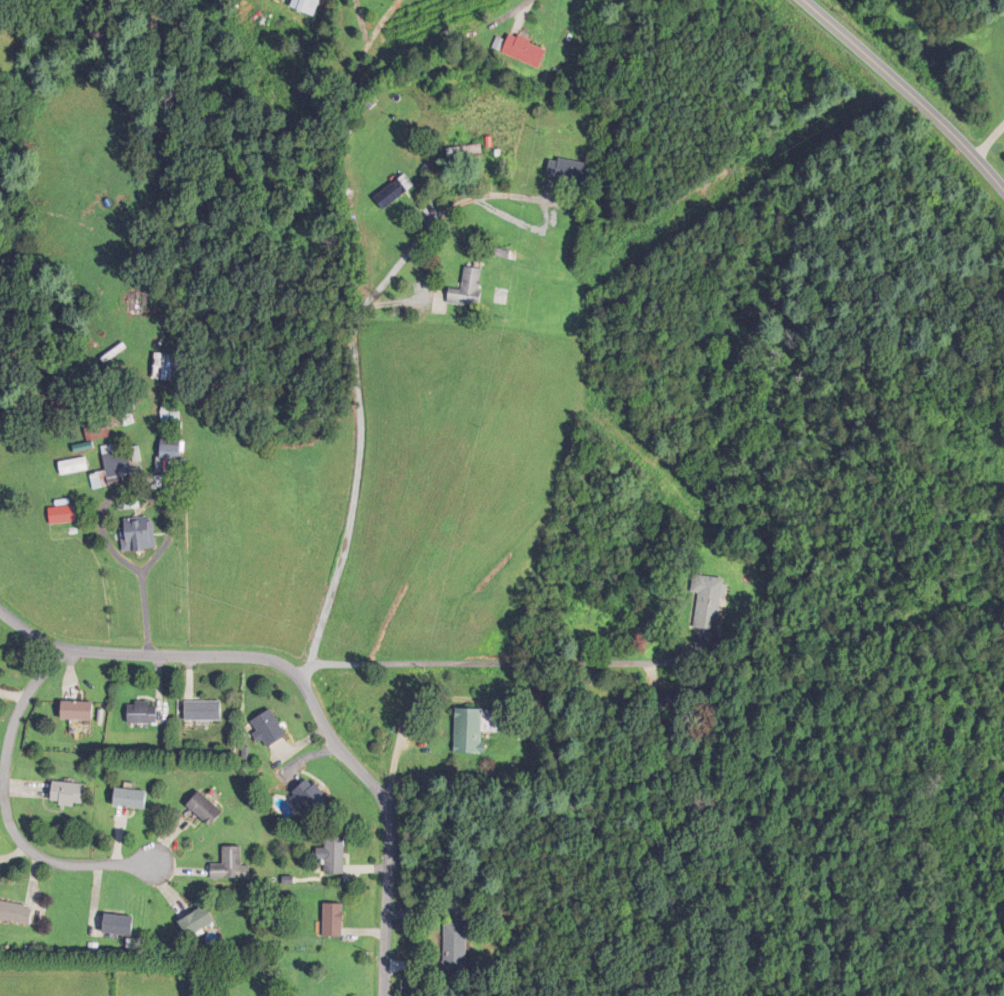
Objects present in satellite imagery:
building: (308, 6)
road: (513, 13)
building: (526, 52)
road: (892, 79)
road: (991, 144)
building: (462, 152)
building: (573, 172)
road: (991, 175)
building: (396, 194)
building: (469, 290)
building: (140, 308)
building: (171, 370)
road: (357, 381)
building: (174, 417)
building: (100, 432)
building: (173, 457)
building: (76, 468)
building: (115, 469)
building: (64, 517)
building: (141, 536)
building: (711, 600)
road: (474, 663)
road: (308, 688)
building: (673, 704)
building: (79, 710)
building: (206, 710)
building: (144, 713)
building: (272, 728)
building: (476, 728)
building: (69, 794)
building: (132, 798)
building: (310, 798)
road: (5, 809)
building: (207, 809)
building: (334, 855)
building: (230, 864)
building: (16, 913)
building: (334, 920)
building: (199, 921)
building: (120, 925)
building: (457, 949)

